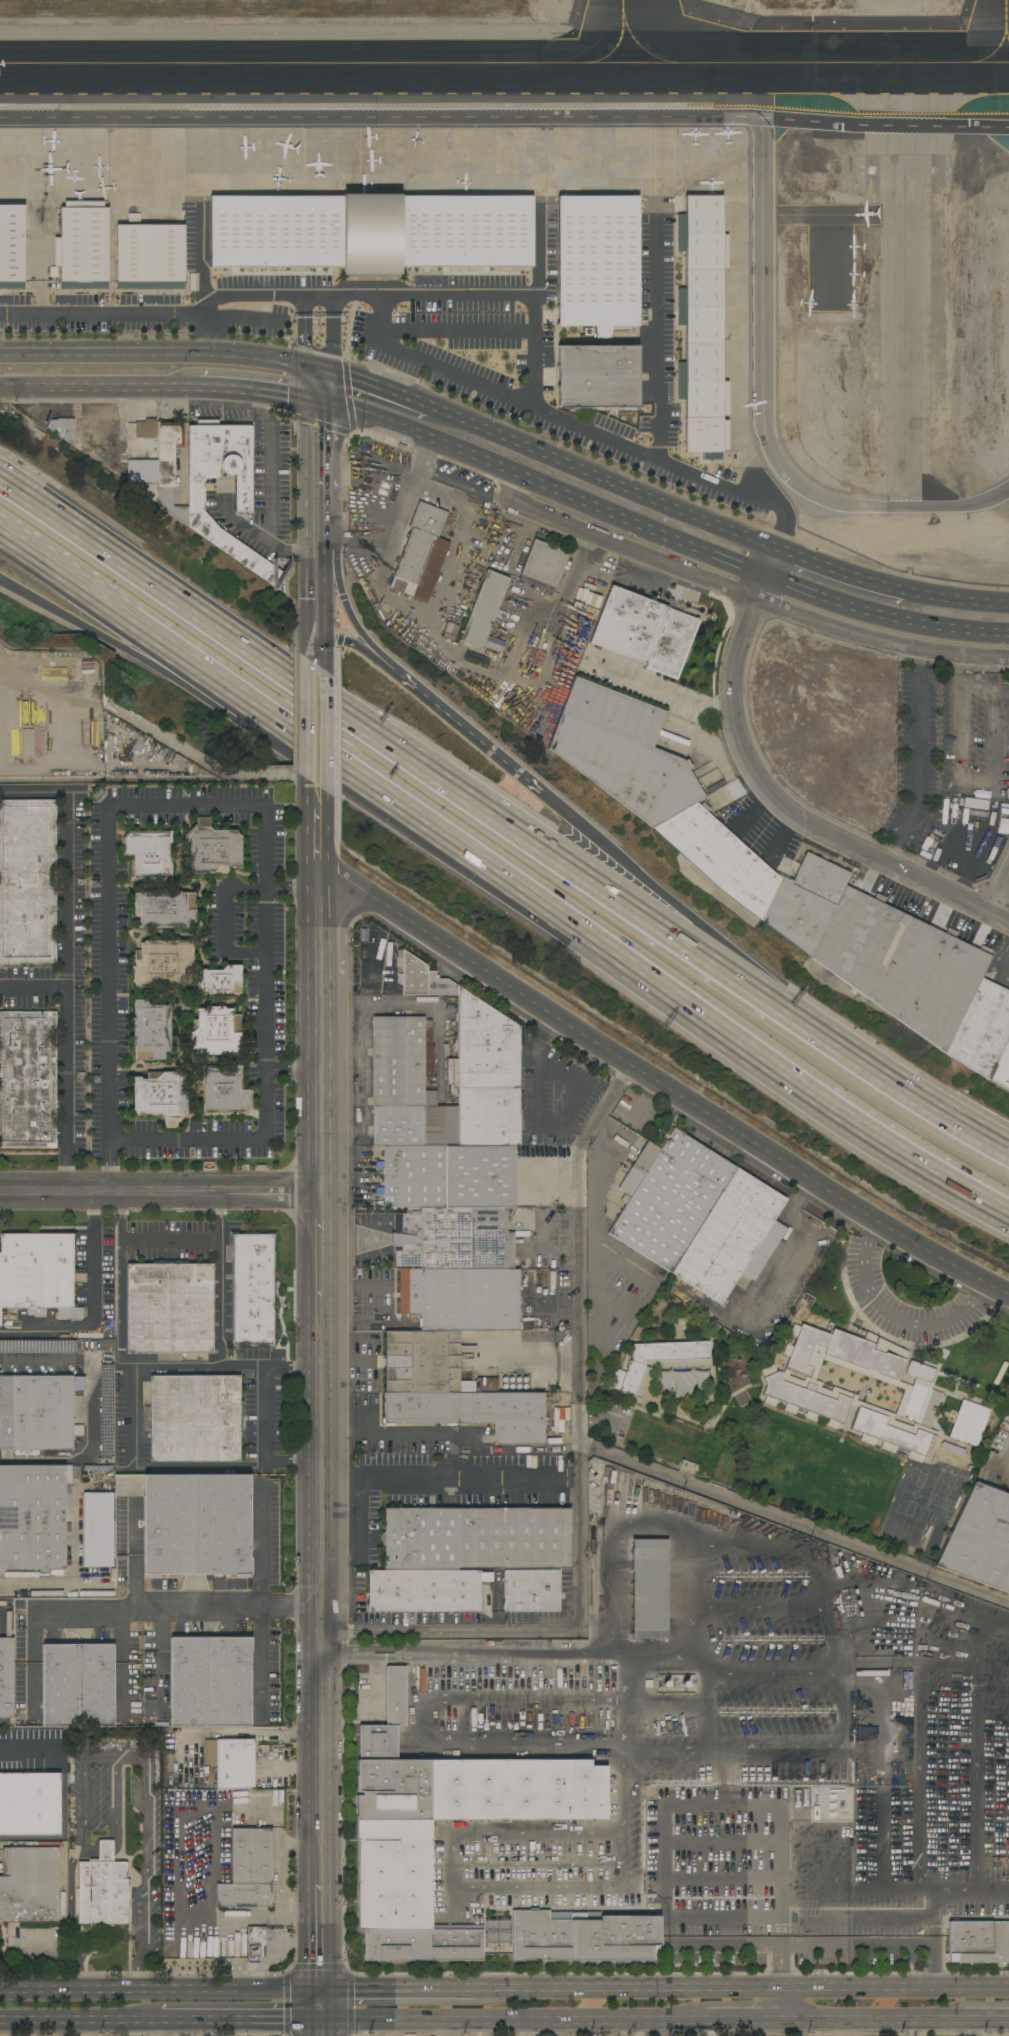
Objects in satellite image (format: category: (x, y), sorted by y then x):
airport taxiway: (625, 32)
airport taxiway: (1005, 35)
airport taxiway: (504, 64)
road: (676, 120)
airport: (561, 226)
building: (370, 232)
building: (13, 245)
building: (82, 245)
road: (533, 253)
building: (150, 255)
road: (202, 261)
building: (597, 262)
road: (317, 299)
road: (242, 319)
building: (702, 323)
road: (304, 333)
road: (457, 334)
road: (203, 335)
road: (657, 336)
road: (331, 337)
road: (153, 354)
traffic signals: (305, 368)
road: (318, 372)
traffic signals: (331, 376)
building: (598, 376)
road: (305, 386)
road: (99, 388)
road: (380, 390)
road: (252, 392)
road: (331, 393)
traffic signals: (305, 404)
road: (318, 407)
traffic signals: (331, 411)
road: (85, 414)
road: (581, 427)
building: (145, 429)
building: (64, 431)
road: (329, 447)
road: (272, 465)
building: (155, 469)
parking lot: (260, 474)
road: (602, 479)
road: (463, 484)
road: (547, 492)
building: (242, 493)
road: (326, 520)
road: (305, 530)
road: (256, 535)
building: (421, 554)
building: (544, 563)
road: (769, 563)
road: (332, 573)
road: (839, 573)
building: (366, 587)
road: (744, 594)
road: (323, 599)
road: (957, 600)
road: (412, 606)
building: (484, 608)
road: (122, 610)
road: (349, 611)
road: (64, 615)
road: (883, 617)
building: (642, 631)
building: (449, 632)
road: (314, 640)
traffic signals: (323, 641)
road: (347, 643)
road: (518, 643)
road: (365, 644)
road: (323, 656)
road: (186, 672)
road: (306, 721)
road: (3, 731)
road: (324, 732)
road: (467, 735)
building: (622, 750)
road: (392, 751)
road: (920, 760)
parking lot: (954, 770)
road: (978, 792)
road: (31, 798)
road: (226, 807)
road: (785, 809)
road: (306, 827)
road: (325, 831)
building: (212, 848)
building: (926, 850)
building: (149, 854)
building: (757, 877)
building: (27, 882)
road: (65, 895)
road: (230, 895)
road: (1002, 900)
building: (165, 909)
road: (680, 910)
road: (343, 923)
road: (623, 958)
building: (162, 963)
building: (901, 964)
building: (221, 980)
road: (108, 998)
road: (404, 1006)
building: (982, 1029)
building: (151, 1030)
building: (215, 1032)
road: (67, 1058)
building: (477, 1060)
building: (1001, 1068)
road: (292, 1071)
building: (28, 1079)
road: (661, 1084)
building: (407, 1086)
road: (896, 1090)
building: (224, 1091)
road: (266, 1093)
building: (162, 1096)
road: (644, 1101)
road: (537, 1122)
road: (574, 1128)
building: (448, 1177)
road: (159, 1190)
building: (669, 1197)
road: (219, 1216)
building: (732, 1238)
building: (454, 1239)
road: (145, 1240)
road: (353, 1240)
road: (800, 1243)
building: (37, 1273)
park: (913, 1284)
building: (253, 1289)
building: (461, 1299)
road: (388, 1302)
road: (556, 1302)
road: (221, 1304)
road: (91, 1307)
road: (122, 1307)
building: (169, 1308)
road: (895, 1316)
building: (562, 1331)
building: (813, 1333)
building: (675, 1353)
building: (799, 1360)
building: (864, 1363)
building: (920, 1372)
road: (319, 1376)
building: (634, 1380)
building: (452, 1390)
building: (807, 1395)
building: (840, 1403)
building: (921, 1405)
road: (89, 1409)
building: (37, 1413)
road: (133, 1417)
building: (194, 1418)
road: (266, 1418)
building: (969, 1423)
road: (372, 1426)
building: (884, 1426)
building: (951, 1451)
road: (580, 1471)
road: (450, 1481)
building: (110, 1487)
building: (33, 1518)
road: (361, 1519)
building: (171, 1524)
building: (223, 1524)
road: (795, 1524)
building: (97, 1530)
building: (476, 1538)
building: (980, 1539)
road: (257, 1547)
road: (136, 1556)
building: (649, 1589)
building: (425, 1590)
building: (531, 1592)
road: (159, 1615)
road: (380, 1647)
road: (339, 1654)
road: (380, 1658)
road: (126, 1664)
road: (158, 1664)
road: (28, 1665)
road: (258, 1667)
building: (6, 1678)
building: (228, 1681)
building: (188, 1682)
building: (96, 1684)
building: (61, 1685)
road: (524, 1699)
building: (21, 1712)
road: (629, 1733)
road: (24, 1746)
building: (757, 1747)
road: (974, 1752)
building: (231, 1762)
road: (625, 1786)
road: (84, 1789)
building: (30, 1804)
building: (481, 1807)
road: (144, 1817)
road: (102, 1850)
road: (539, 1860)
road: (880, 1865)
building: (248, 1870)
building: (29, 1885)
road: (454, 1888)
building: (102, 1889)
road: (970, 1889)
building: (61, 1903)
road: (71, 1914)
road: (931, 1917)
road: (317, 1937)
building: (584, 1937)
building: (978, 1942)
building: (255, 1943)
road: (724, 1946)
road: (856, 1946)
road: (786, 1967)
road: (775, 1968)
road: (934, 1968)
traffic signals: (318, 1990)
road: (397, 1990)
road: (625, 1990)
road: (159, 1991)
road: (892, 1991)
road: (777, 2006)
road: (318, 2013)
road: (872, 2020)
road: (987, 2020)
road: (79, 2021)
road: (238, 2021)
traffic signals: (318, 2021)
road: (548, 2021)
road: (447, 2028)
road: (850, 2028)
road: (913, 2028)
road: (974, 2028)
road: (159, 2029)

